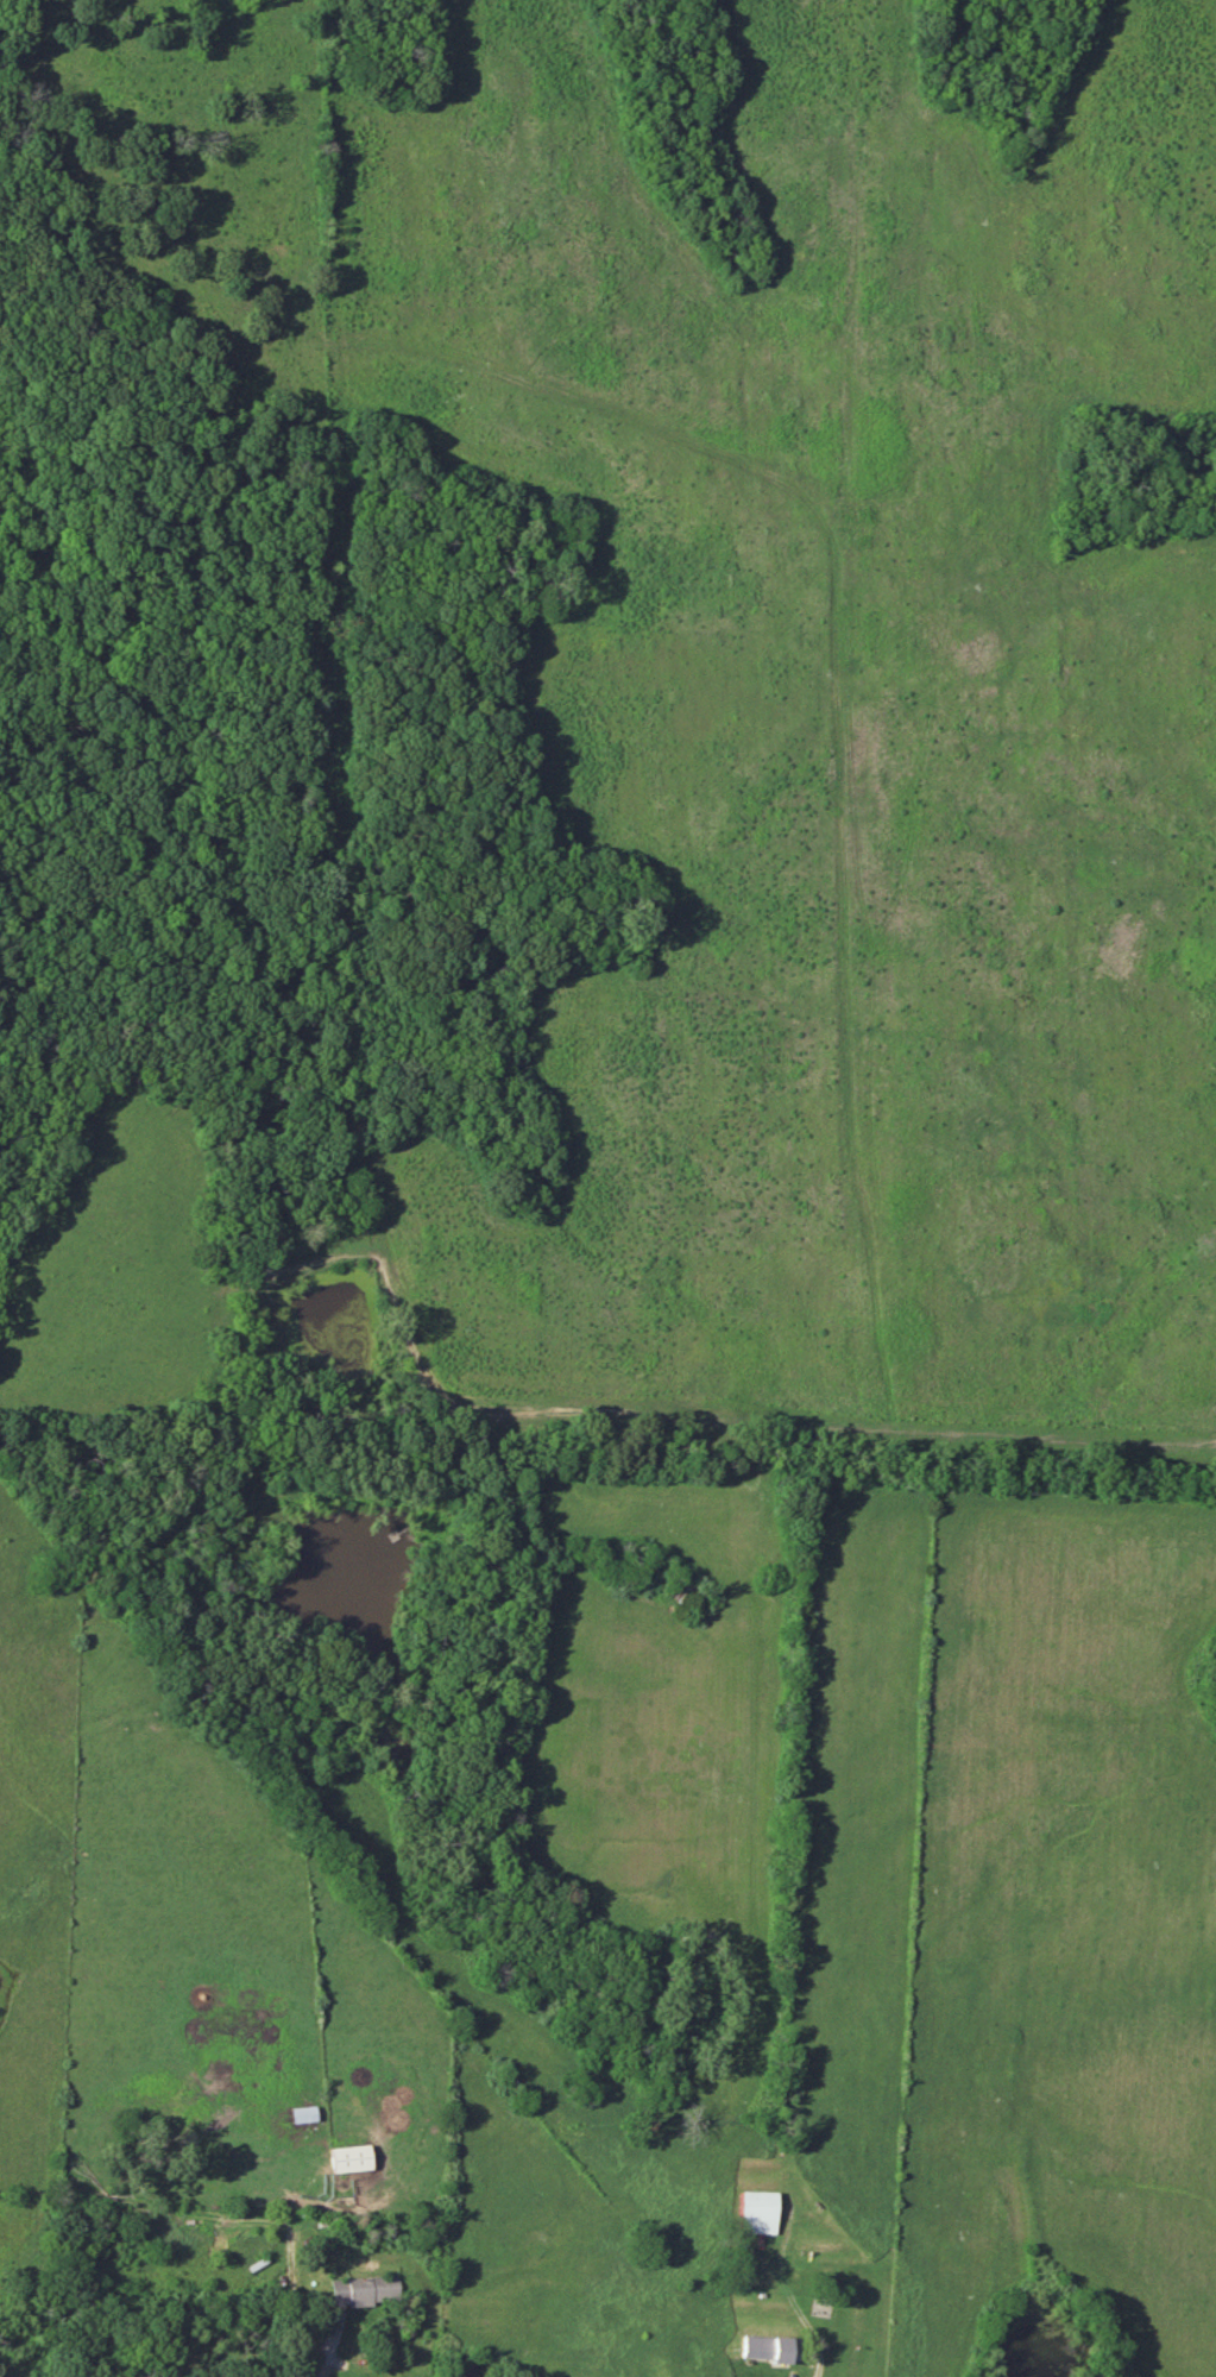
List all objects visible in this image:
building: (302, 2115)
building: (348, 2159)
building: (755, 2213)
building: (364, 2290)
road: (332, 2343)
building: (763, 2350)
road: (807, 2358)

